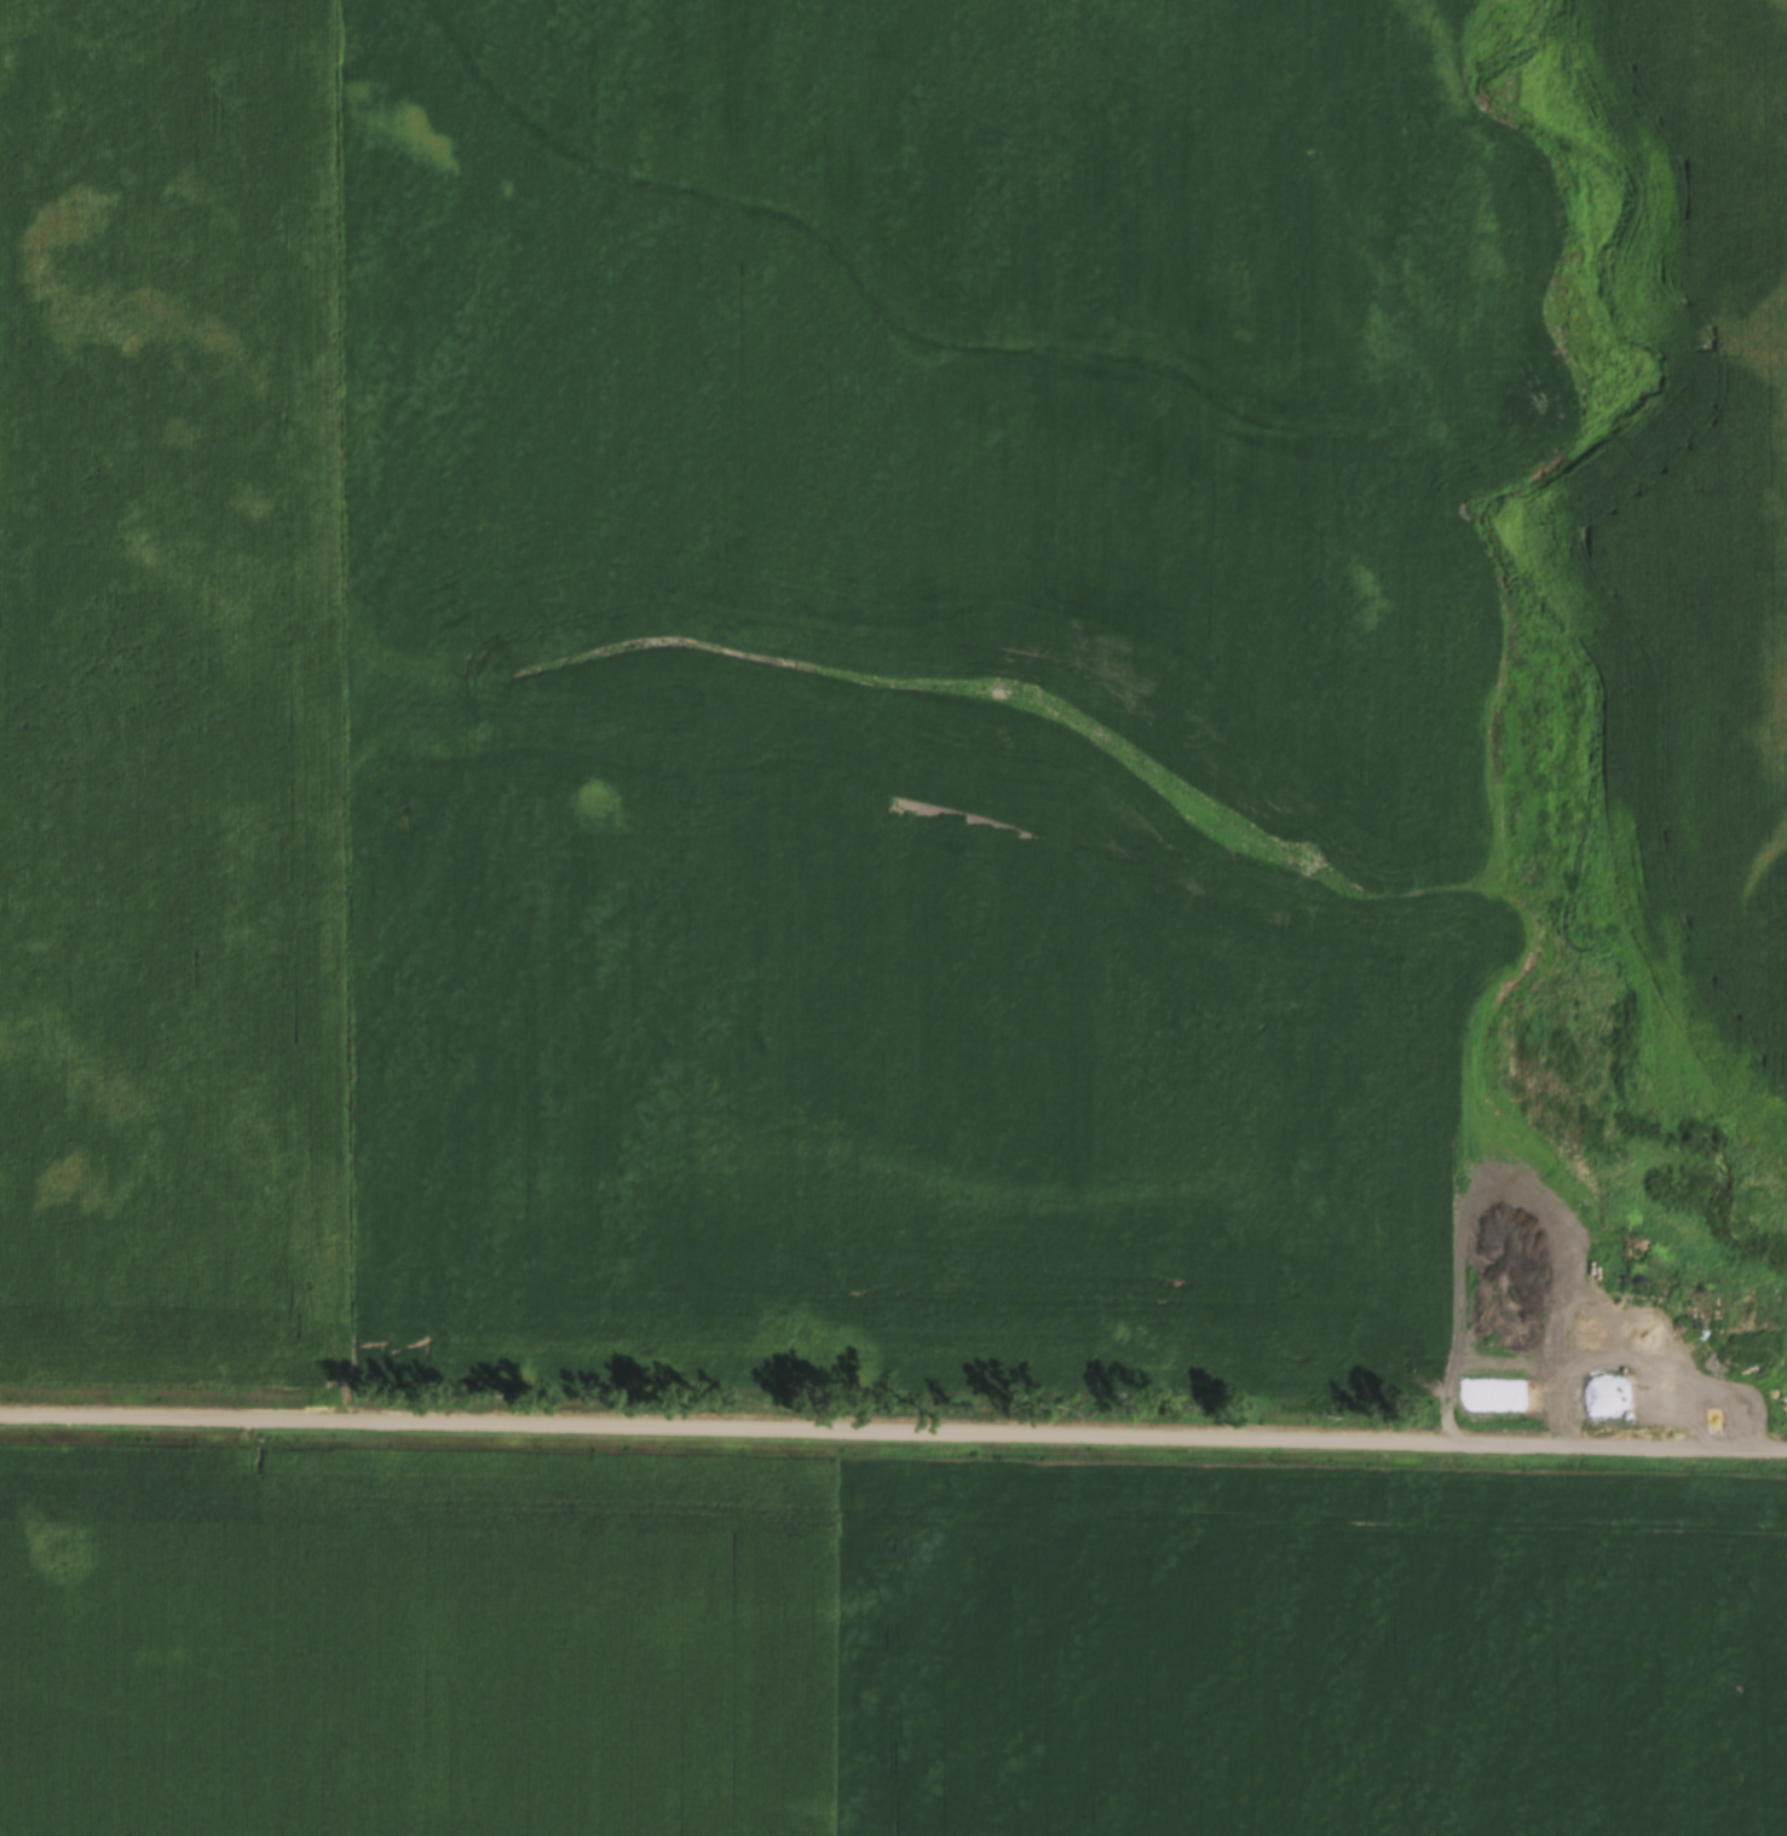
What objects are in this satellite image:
road: (893, 1431)

